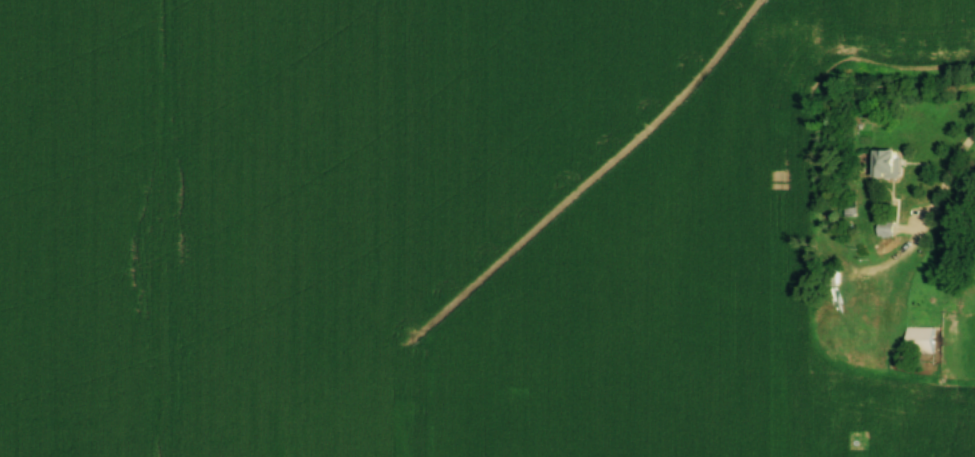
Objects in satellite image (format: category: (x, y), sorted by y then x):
building: (885, 164)
road: (944, 179)
building: (820, 222)
building: (884, 229)
building: (840, 336)
building: (860, 336)
building: (911, 345)
building: (839, 364)

